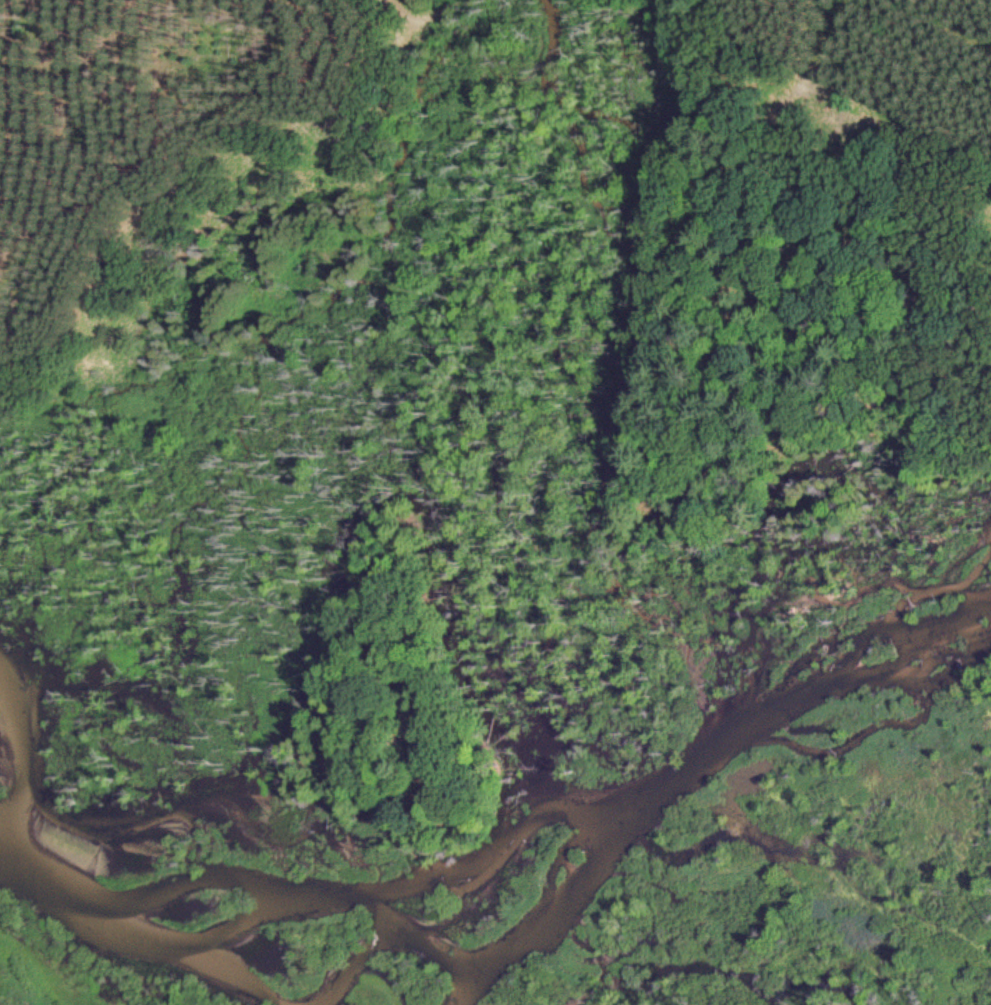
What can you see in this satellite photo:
river: (524, 935)

